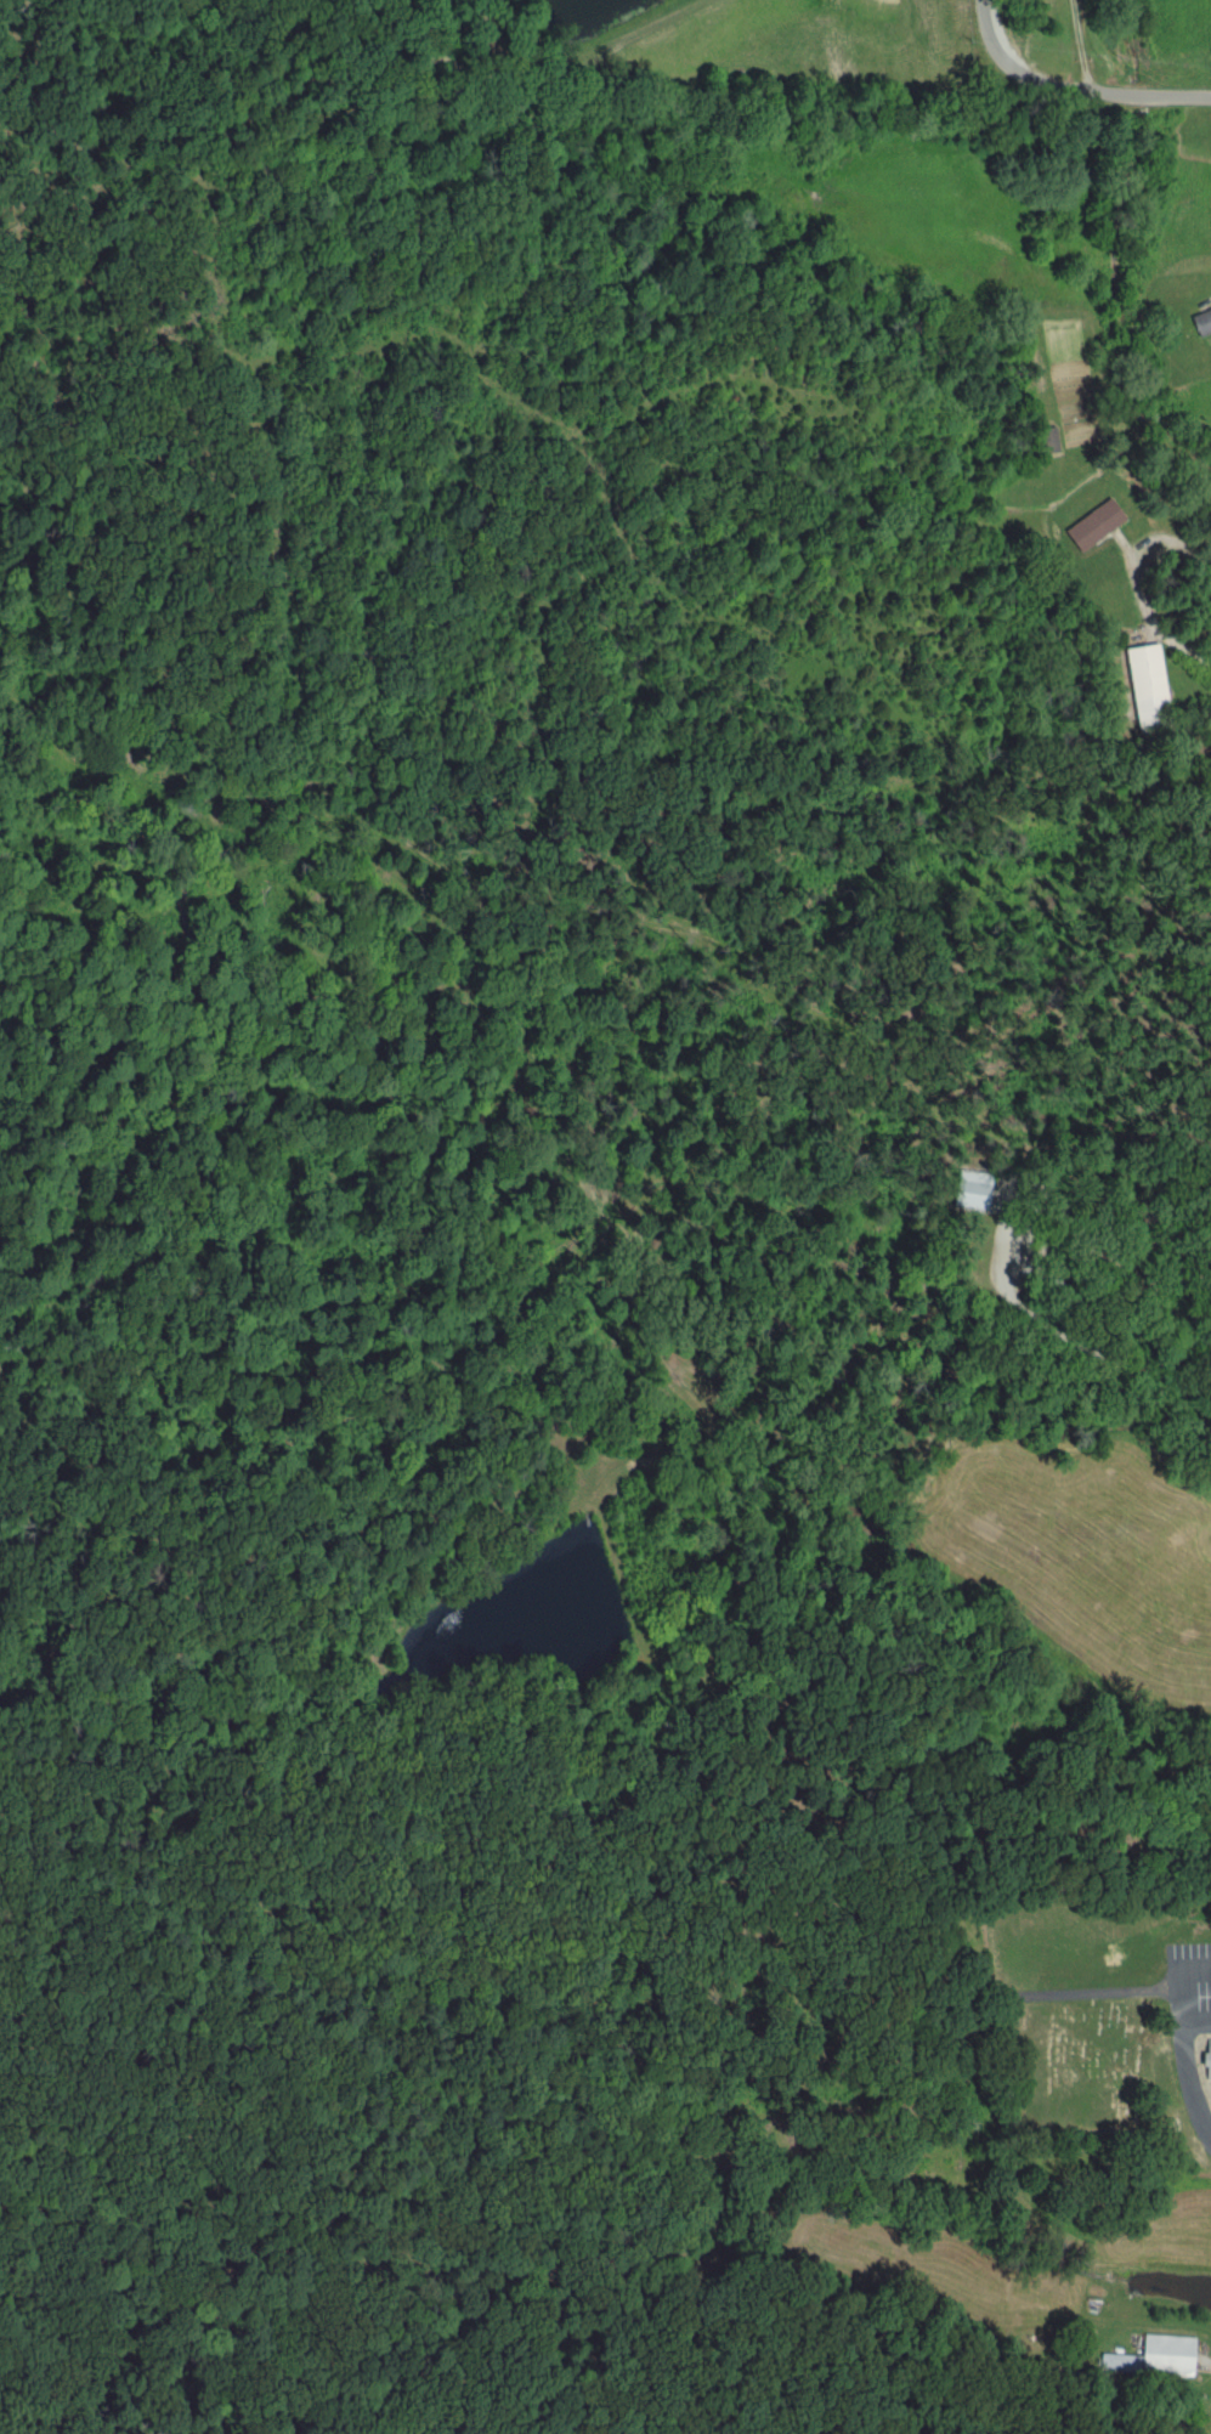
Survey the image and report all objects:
road: (1076, 46)
road: (1069, 84)
building: (1201, 322)
building: (1046, 441)
building: (1091, 525)
road: (1136, 595)
building: (1145, 686)
building: (1205, 2057)
building: (1151, 2357)
road: (1200, 2360)

